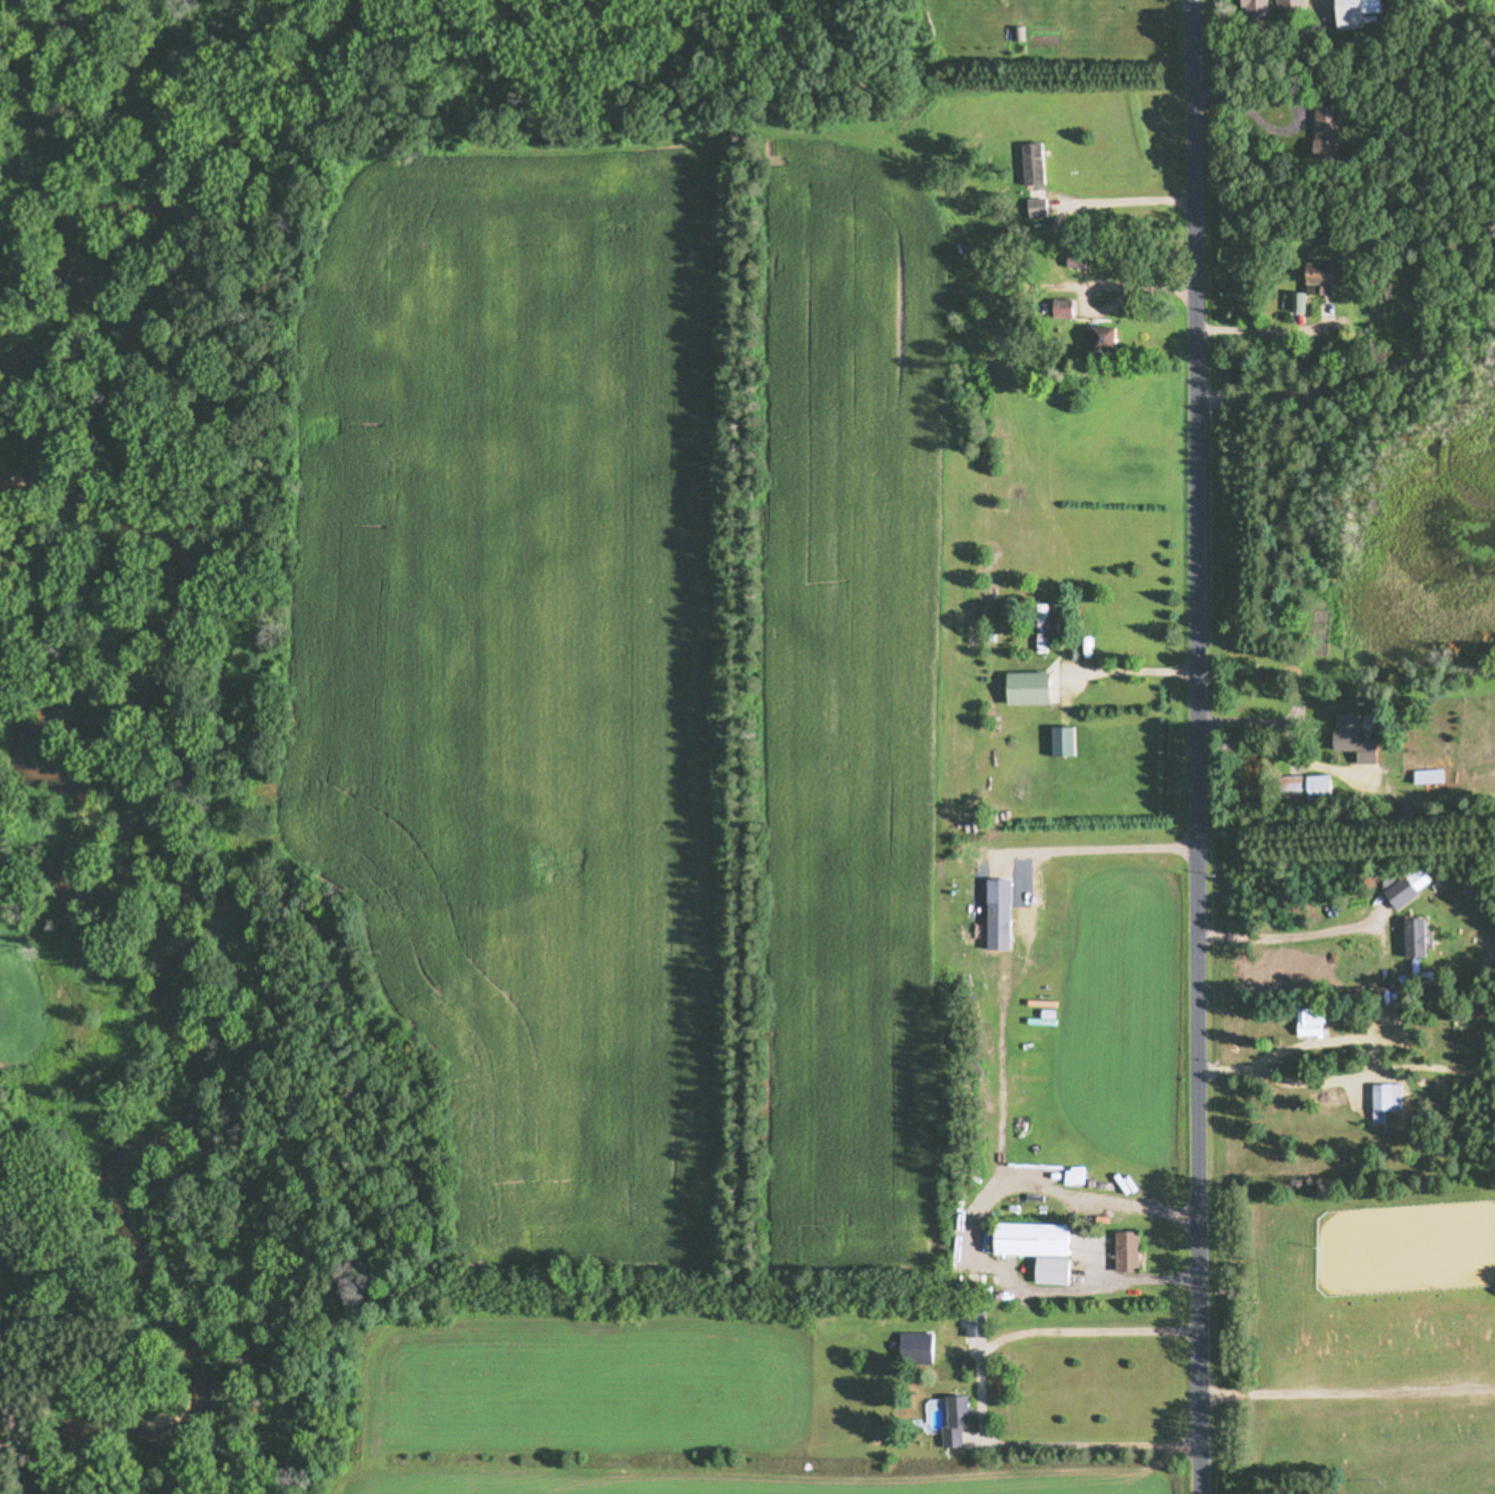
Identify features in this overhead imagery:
building: (1253, 8)
building: (1353, 9)
building: (1029, 162)
building: (1034, 203)
building: (1310, 278)
building: (1294, 301)
building: (1095, 337)
road: (1347, 373)
building: (1042, 628)
building: (1022, 687)
building: (1343, 732)
road: (1197, 746)
building: (1427, 775)
building: (1304, 786)
building: (1397, 891)
crop: (14, 922)
building: (992, 931)
building: (1412, 937)
crop: (626, 1013)
building: (1307, 1015)
road: (1000, 1038)
building: (1379, 1097)
building: (1031, 1247)
building: (1124, 1251)
road: (1040, 1300)
building: (915, 1347)
road: (979, 1393)
building: (947, 1417)

